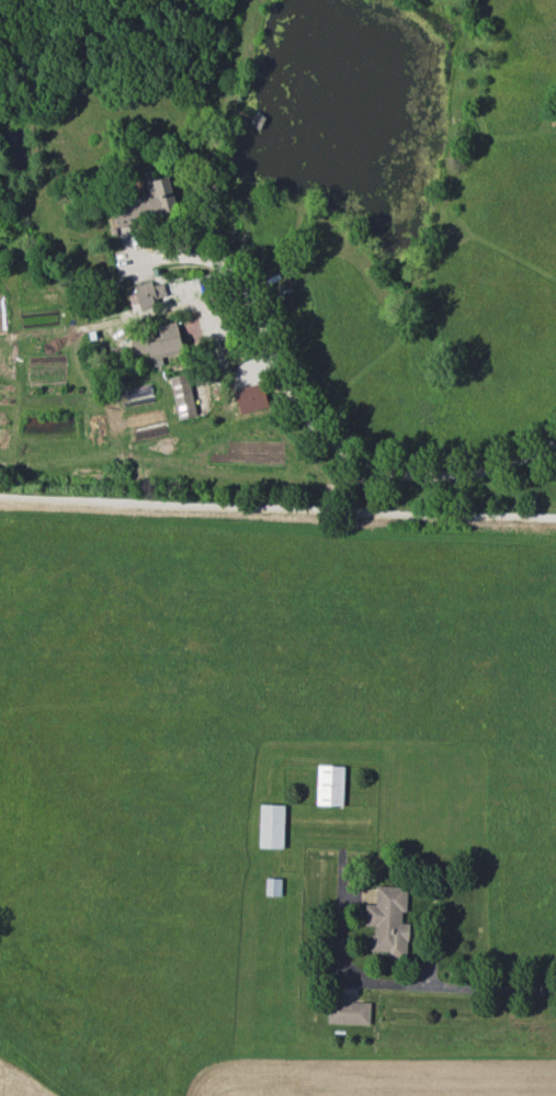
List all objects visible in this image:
building: (147, 202)
building: (146, 294)
building: (164, 343)
building: (182, 396)
road: (305, 413)
road: (277, 508)
building: (329, 786)
building: (271, 826)
building: (388, 922)
road: (485, 990)
building: (348, 1013)

